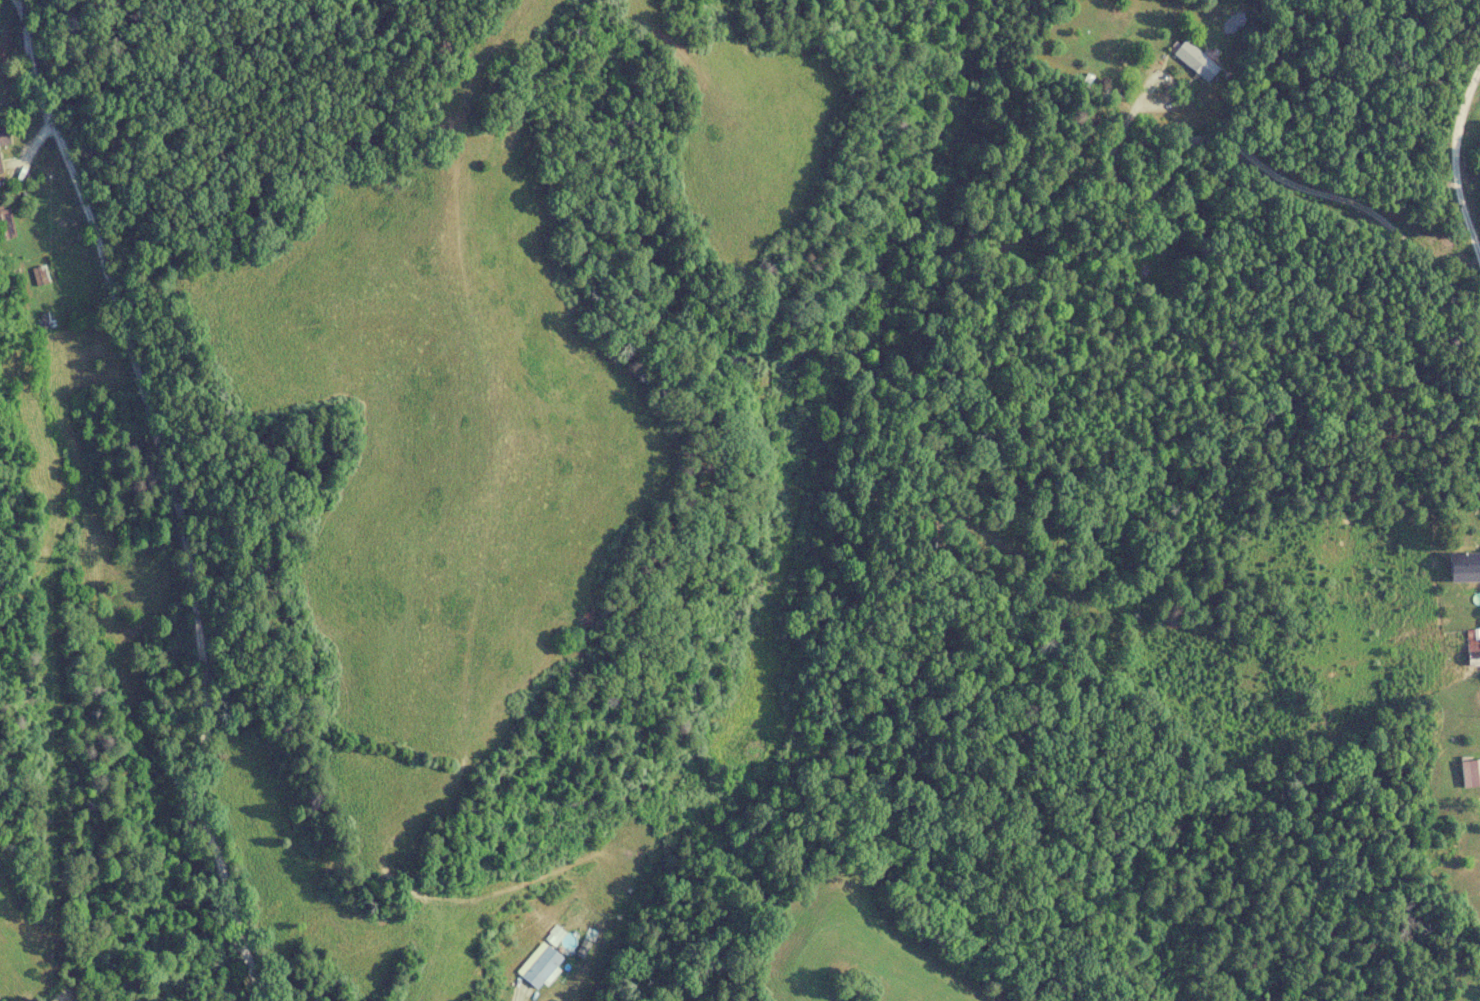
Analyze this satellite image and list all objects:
building: (1198, 62)
building: (5, 138)
building: (0, 163)
road: (1454, 170)
road: (1307, 195)
building: (42, 276)
road: (148, 537)
building: (1471, 774)
building: (542, 966)

